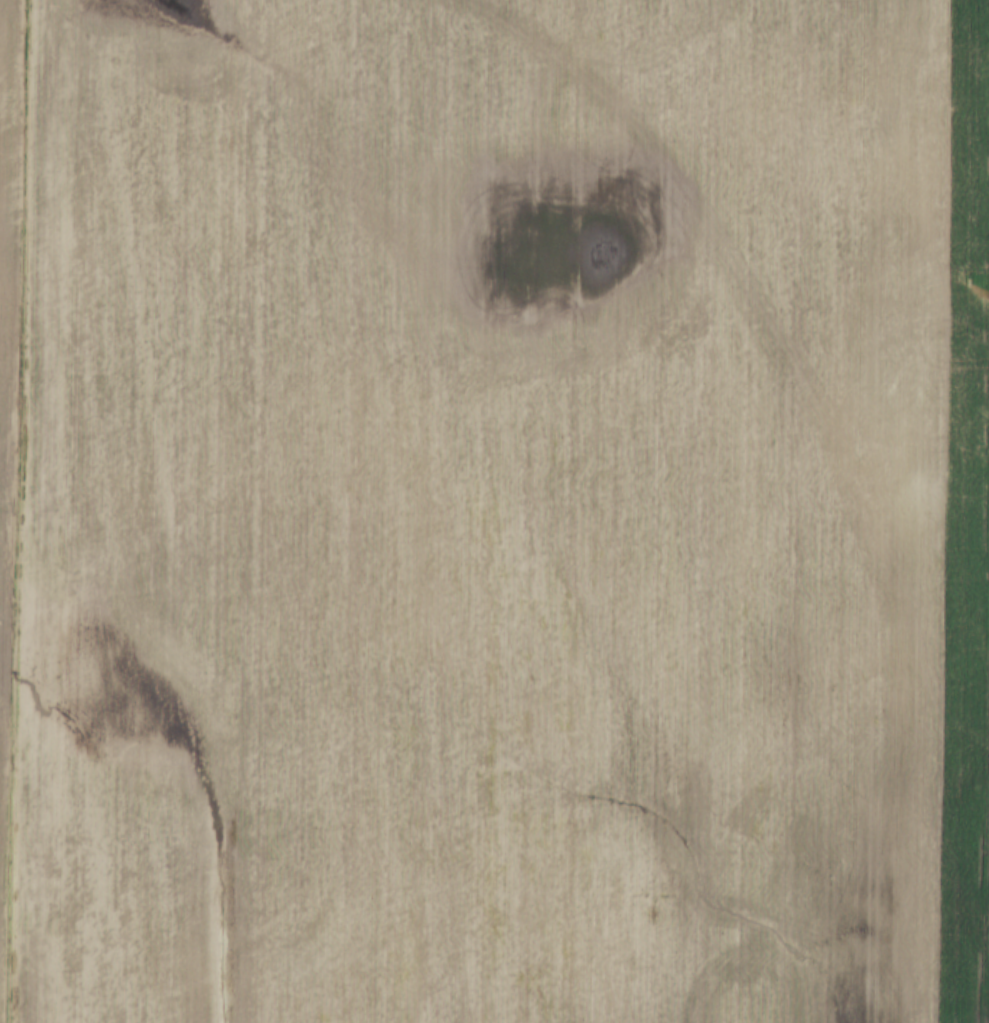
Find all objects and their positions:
crop: (965, 526)

